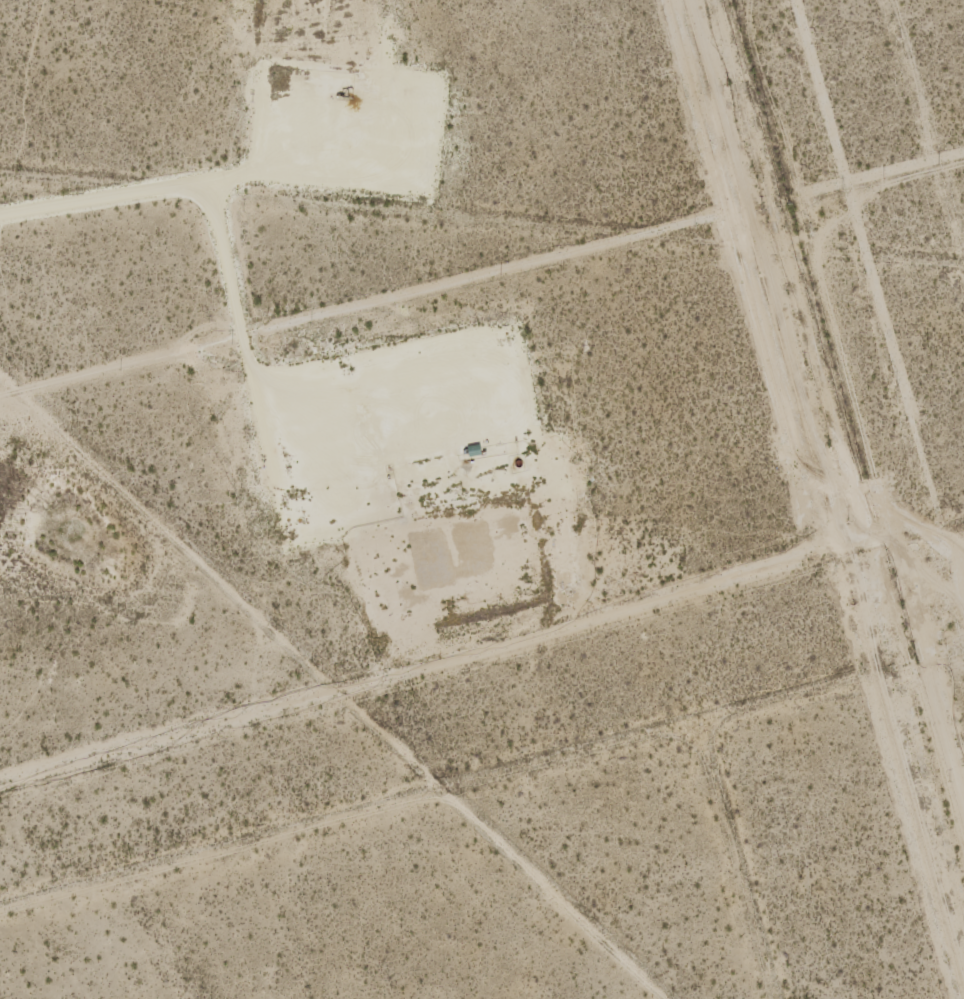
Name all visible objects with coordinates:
petroleum well: (345, 97)

